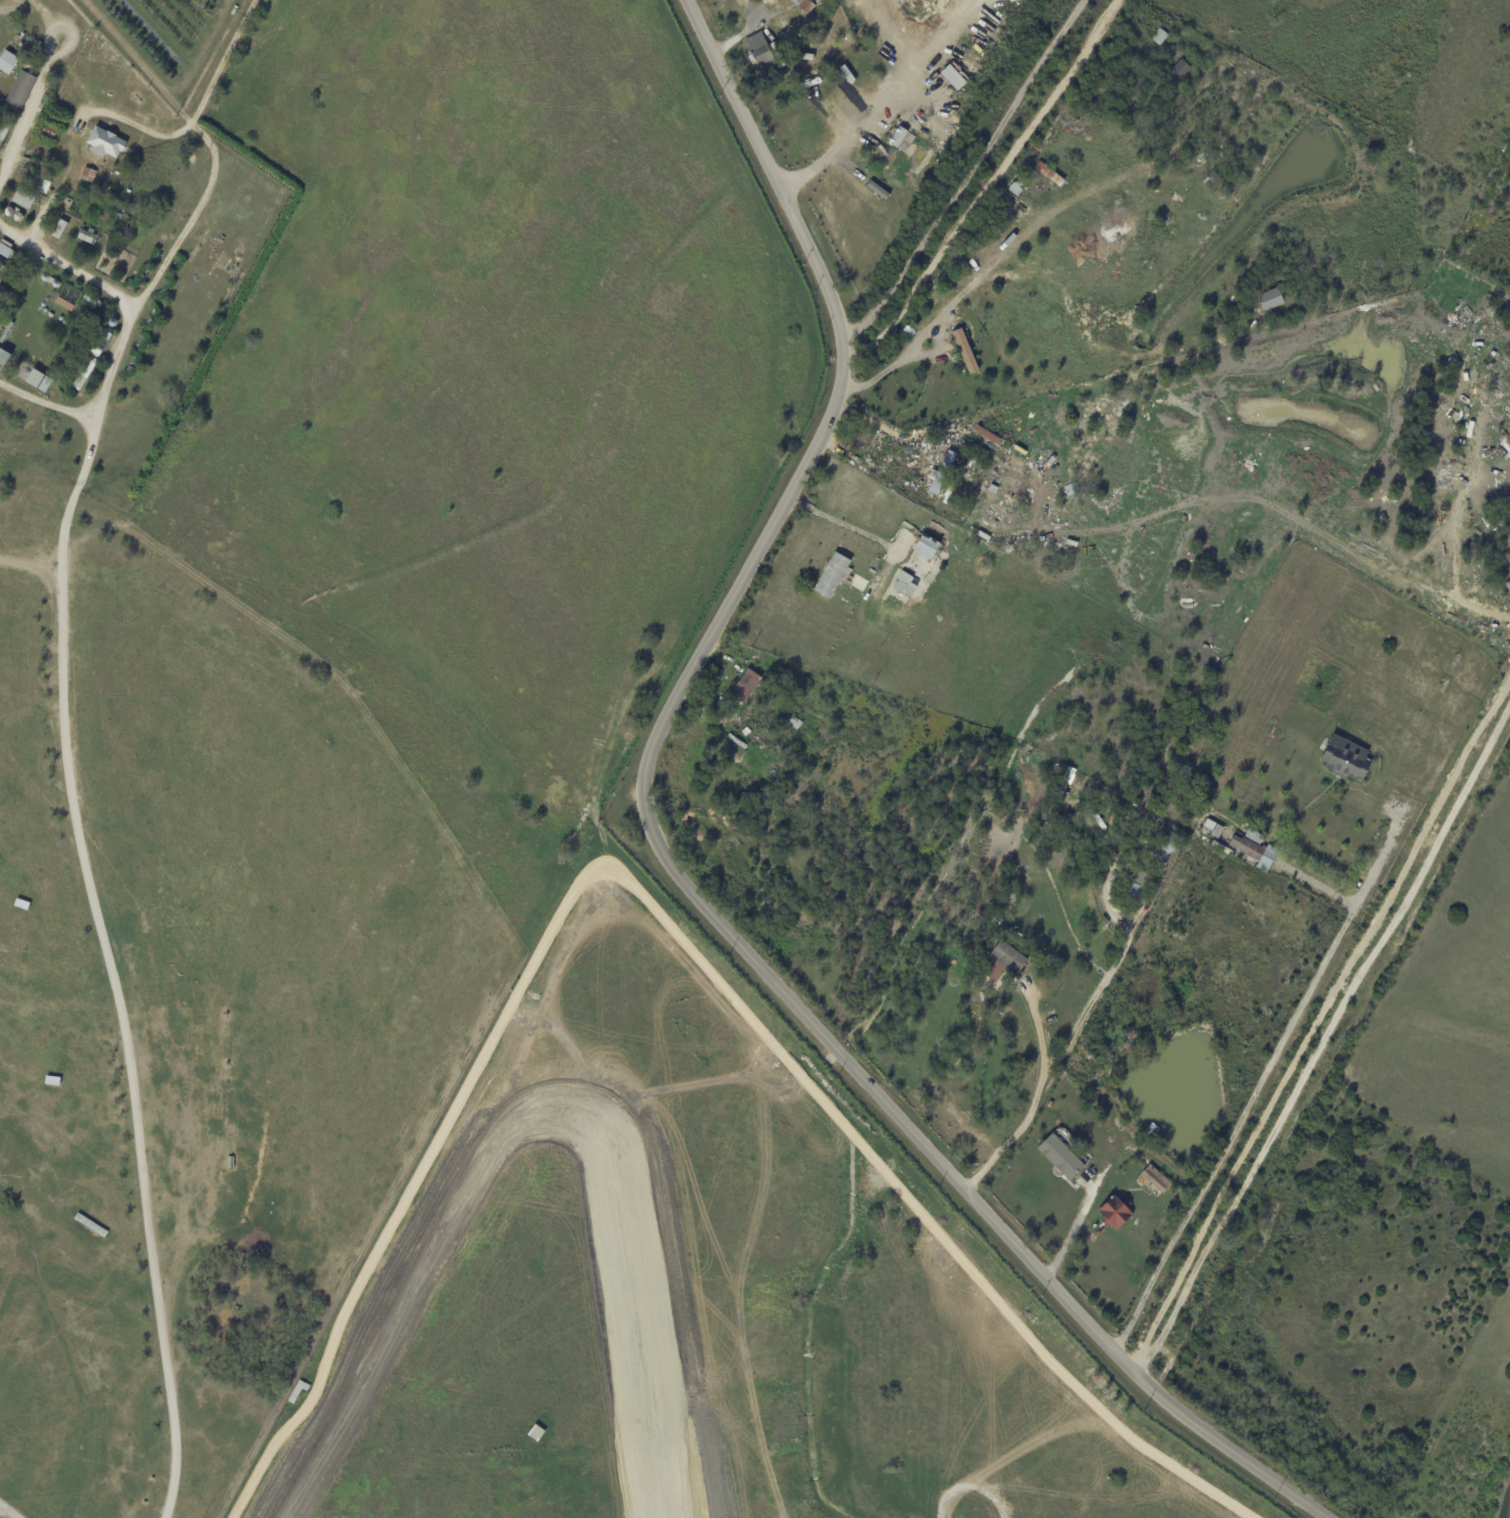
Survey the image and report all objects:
building: (805, 5)
building: (235, 11)
building: (1161, 36)
building: (760, 51)
building: (31, 61)
building: (8, 62)
building: (1181, 70)
building: (952, 77)
building: (20, 90)
road: (873, 99)
road: (29, 114)
building: (6, 125)
road: (145, 125)
building: (48, 131)
building: (105, 142)
building: (44, 168)
building: (117, 172)
building: (1048, 173)
building: (89, 174)
road: (964, 174)
building: (31, 179)
road: (984, 186)
building: (1017, 187)
building: (877, 193)
building: (24, 198)
building: (106, 214)
building: (118, 216)
building: (59, 228)
building: (85, 237)
road: (1003, 253)
road: (66, 269)
building: (89, 299)
building: (1273, 299)
building: (6, 333)
building: (106, 334)
building: (968, 345)
building: (4, 356)
building: (85, 369)
building: (35, 378)
building: (45, 384)
road: (46, 398)
road: (866, 417)
building: (938, 440)
road: (835, 446)
building: (911, 463)
building: (940, 472)
building: (1504, 472)
building: (1508, 484)
building: (1070, 493)
road: (834, 517)
road: (38, 544)
building: (928, 548)
building: (872, 572)
building: (833, 575)
building: (907, 584)
building: (746, 686)
building: (758, 732)
building: (785, 736)
road: (65, 737)
building: (1345, 757)
building: (1042, 761)
building: (1188, 771)
building: (1207, 781)
building: (1067, 782)
building: (1184, 792)
building: (756, 797)
building: (1205, 799)
building: (1151, 803)
building: (747, 811)
building: (772, 818)
building: (1068, 819)
building: (1153, 822)
building: (1213, 828)
building: (1101, 836)
building: (1060, 840)
building: (1255, 849)
road: (670, 853)
building: (1136, 895)
building: (1010, 958)
building: (976, 1001)
building: (1133, 1038)
road: (1071, 1039)
road: (1323, 1044)
building: (1106, 1053)
building: (1082, 1071)
road: (1257, 1087)
building: (1051, 1104)
building: (1085, 1105)
building: (1062, 1158)
building: (1154, 1181)
building: (1178, 1194)
building: (1116, 1213)
building: (92, 1225)
road: (1075, 1225)
building: (1166, 1231)
building: (298, 1391)
building: (537, 1433)
road: (6, 1513)

